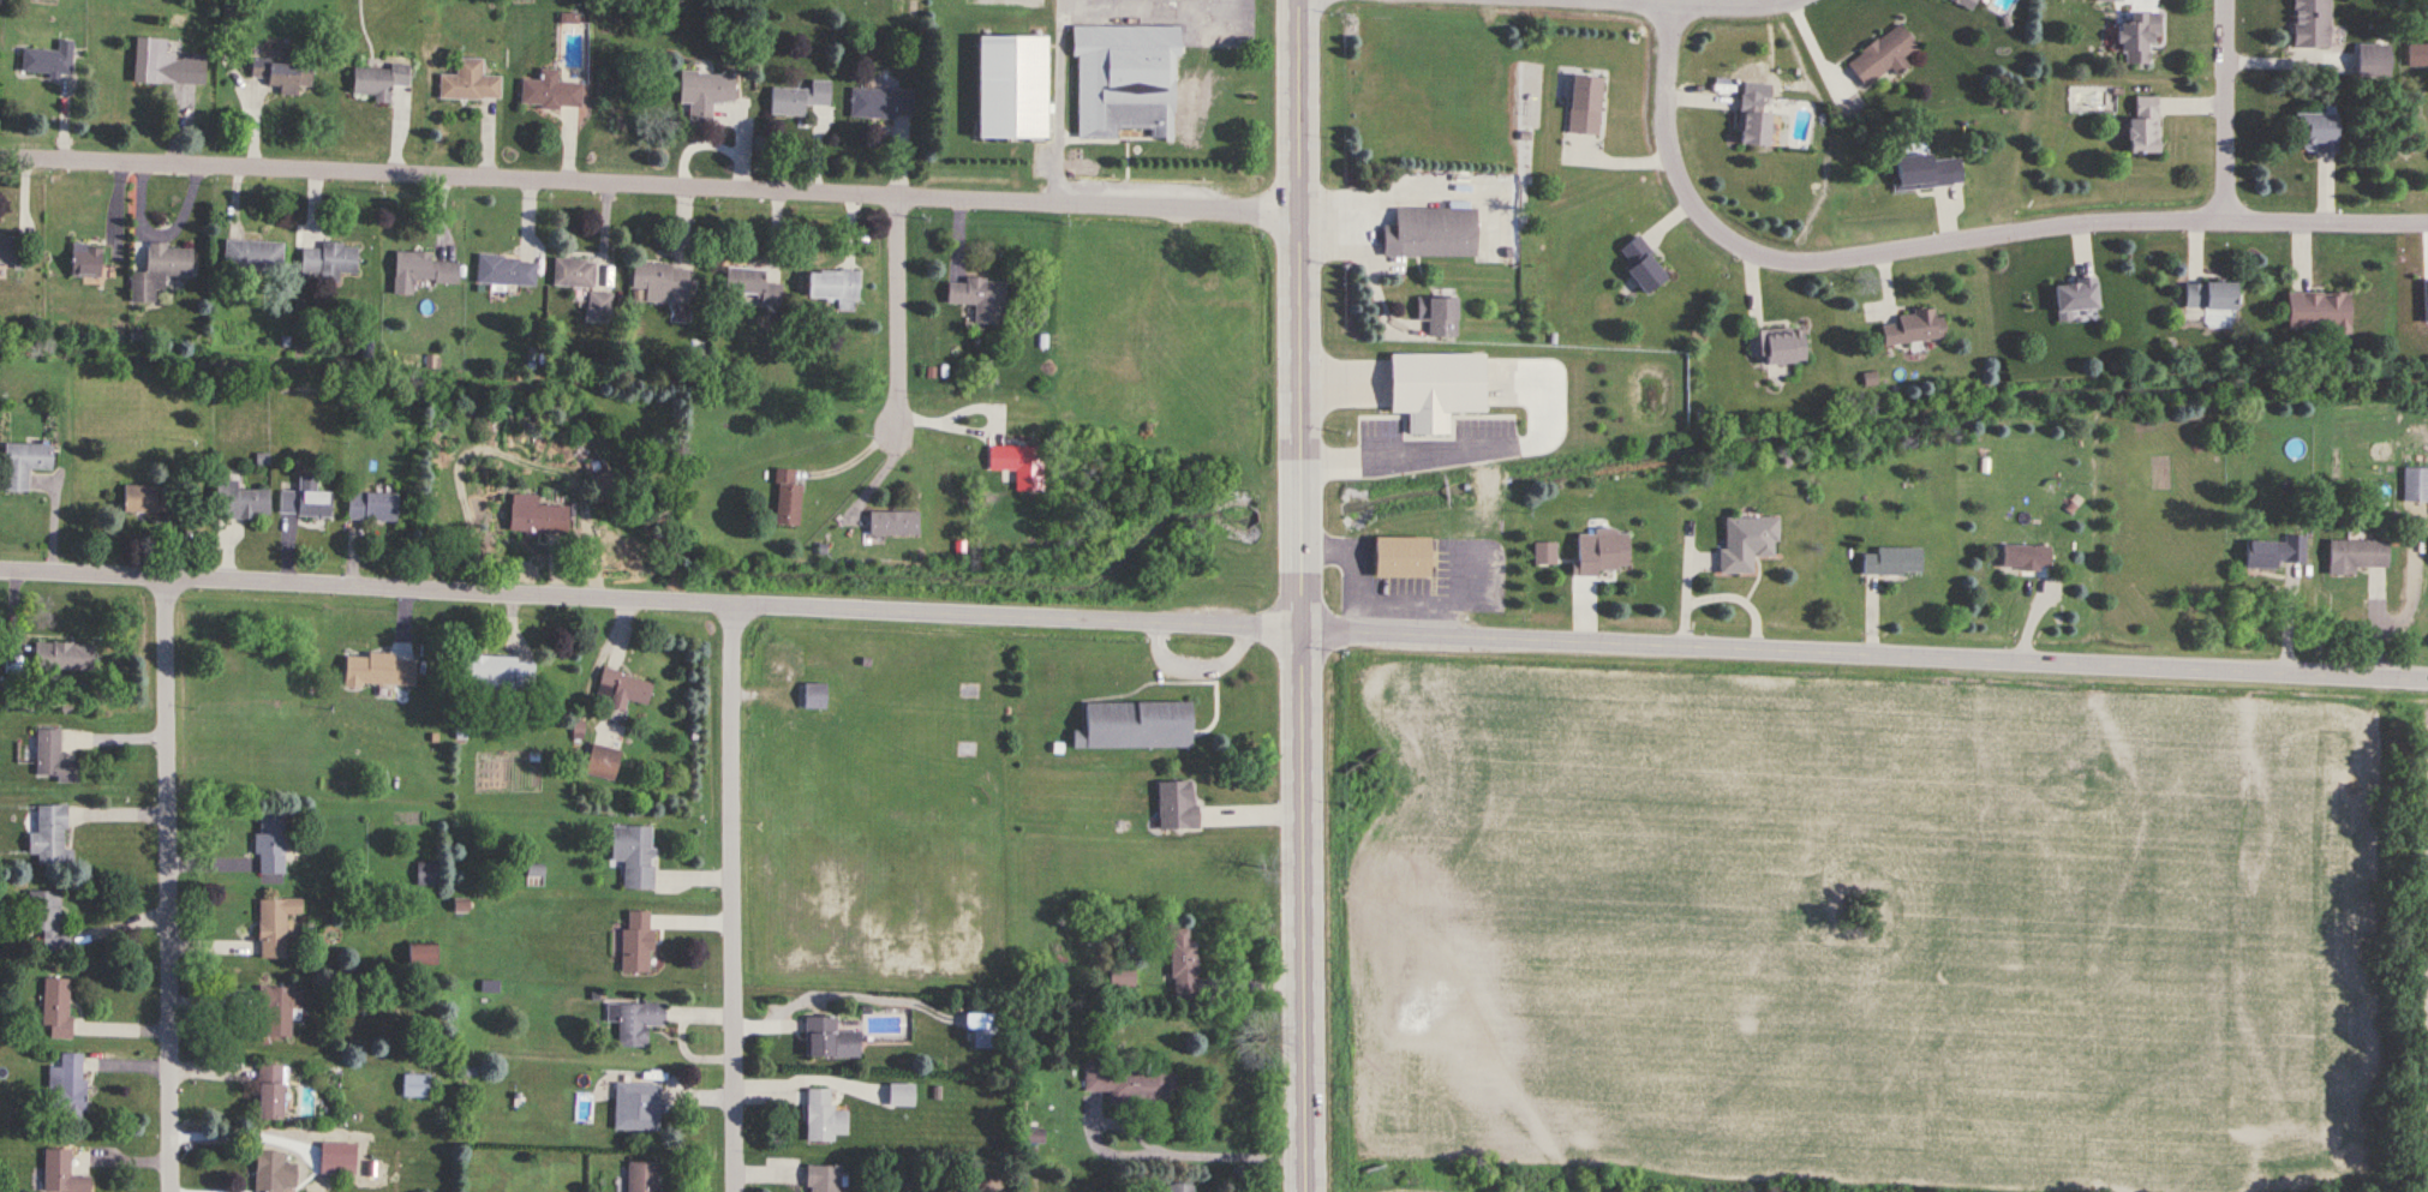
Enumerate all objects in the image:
building: (2109, 1)
building: (1964, 4)
road: (1687, 5)
road: (1150, 18)
building: (2310, 24)
building: (2137, 38)
building: (1883, 56)
building: (2417, 56)
building: (43, 61)
building: (2372, 61)
building: (163, 64)
building: (281, 73)
building: (377, 79)
building: (1125, 80)
building: (467, 82)
building: (1009, 89)
building: (549, 91)
building: (711, 94)
building: (801, 100)
road: (1060, 100)
building: (880, 104)
building: (1583, 104)
road: (2227, 109)
building: (1752, 124)
building: (2143, 130)
building: (2315, 133)
building: (1927, 173)
road: (650, 181)
building: (1430, 233)
road: (1950, 241)
building: (11, 248)
building: (250, 254)
building: (328, 259)
building: (84, 260)
building: (1640, 265)
building: (503, 269)
building: (156, 270)
building: (418, 270)
building: (572, 271)
building: (659, 281)
building: (750, 284)
building: (831, 284)
building: (2074, 295)
building: (2208, 295)
building: (980, 298)
building: (598, 304)
road: (898, 310)
building: (2318, 312)
building: (1437, 316)
building: (1913, 328)
building: (1776, 346)
building: (1434, 389)
road: (980, 407)
road: (1401, 436)
building: (23, 463)
building: (1019, 466)
building: (2415, 485)
building: (783, 496)
building: (137, 498)
building: (239, 502)
building: (305, 502)
building: (370, 505)
building: (534, 515)
building: (890, 522)
building: (1746, 544)
building: (1598, 553)
building: (2274, 553)
building: (2355, 556)
building: (1400, 557)
building: (2025, 557)
building: (1892, 561)
road: (1341, 562)
road: (1303, 595)
road: (1214, 623)
building: (62, 655)
building: (497, 671)
building: (373, 672)
building: (623, 688)
building: (814, 695)
building: (1136, 725)
building: (53, 757)
building: (602, 760)
building: (1176, 805)
building: (49, 834)
building: (270, 845)
building: (633, 855)
building: (426, 874)
road: (173, 885)
road: (737, 897)
building: (47, 920)
building: (274, 926)
building: (635, 941)
building: (419, 956)
building: (1183, 965)
building: (1122, 976)
building: (55, 1007)
building: (277, 1007)
building: (638, 1023)
building: (988, 1031)
building: (829, 1038)
building: (1131, 1084)
building: (417, 1085)
building: (66, 1086)
building: (268, 1092)
building: (639, 1110)
building: (823, 1116)
building: (1034, 1137)
road: (1155, 1146)
building: (274, 1172)
building: (61, 1173)
building: (641, 1178)
building: (823, 1179)
building: (1179, 1187)

